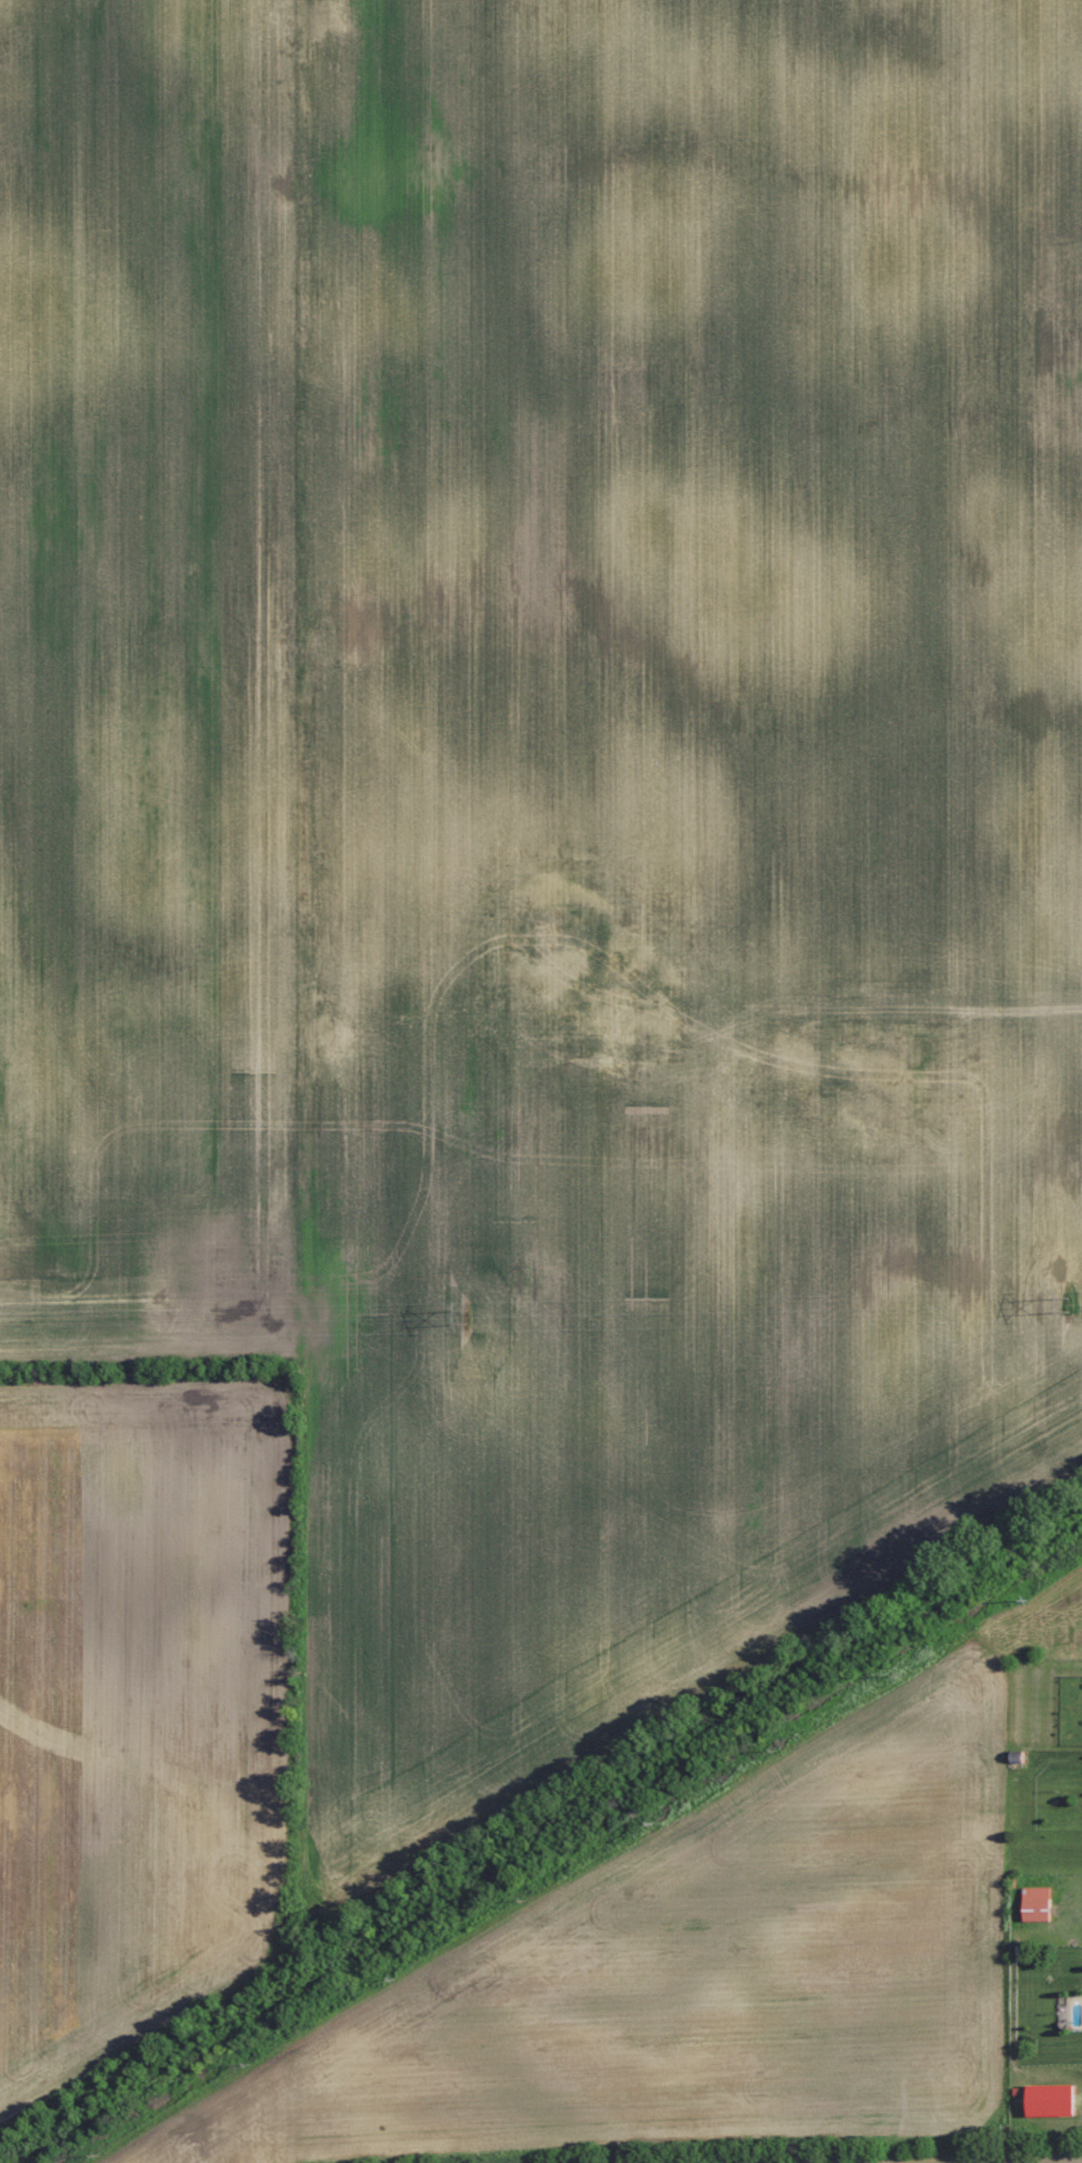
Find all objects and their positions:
power tower: (1070, 1305)
power tower: (468, 1318)
railway: (545, 1841)
building: (1039, 1904)
building: (1054, 2101)

